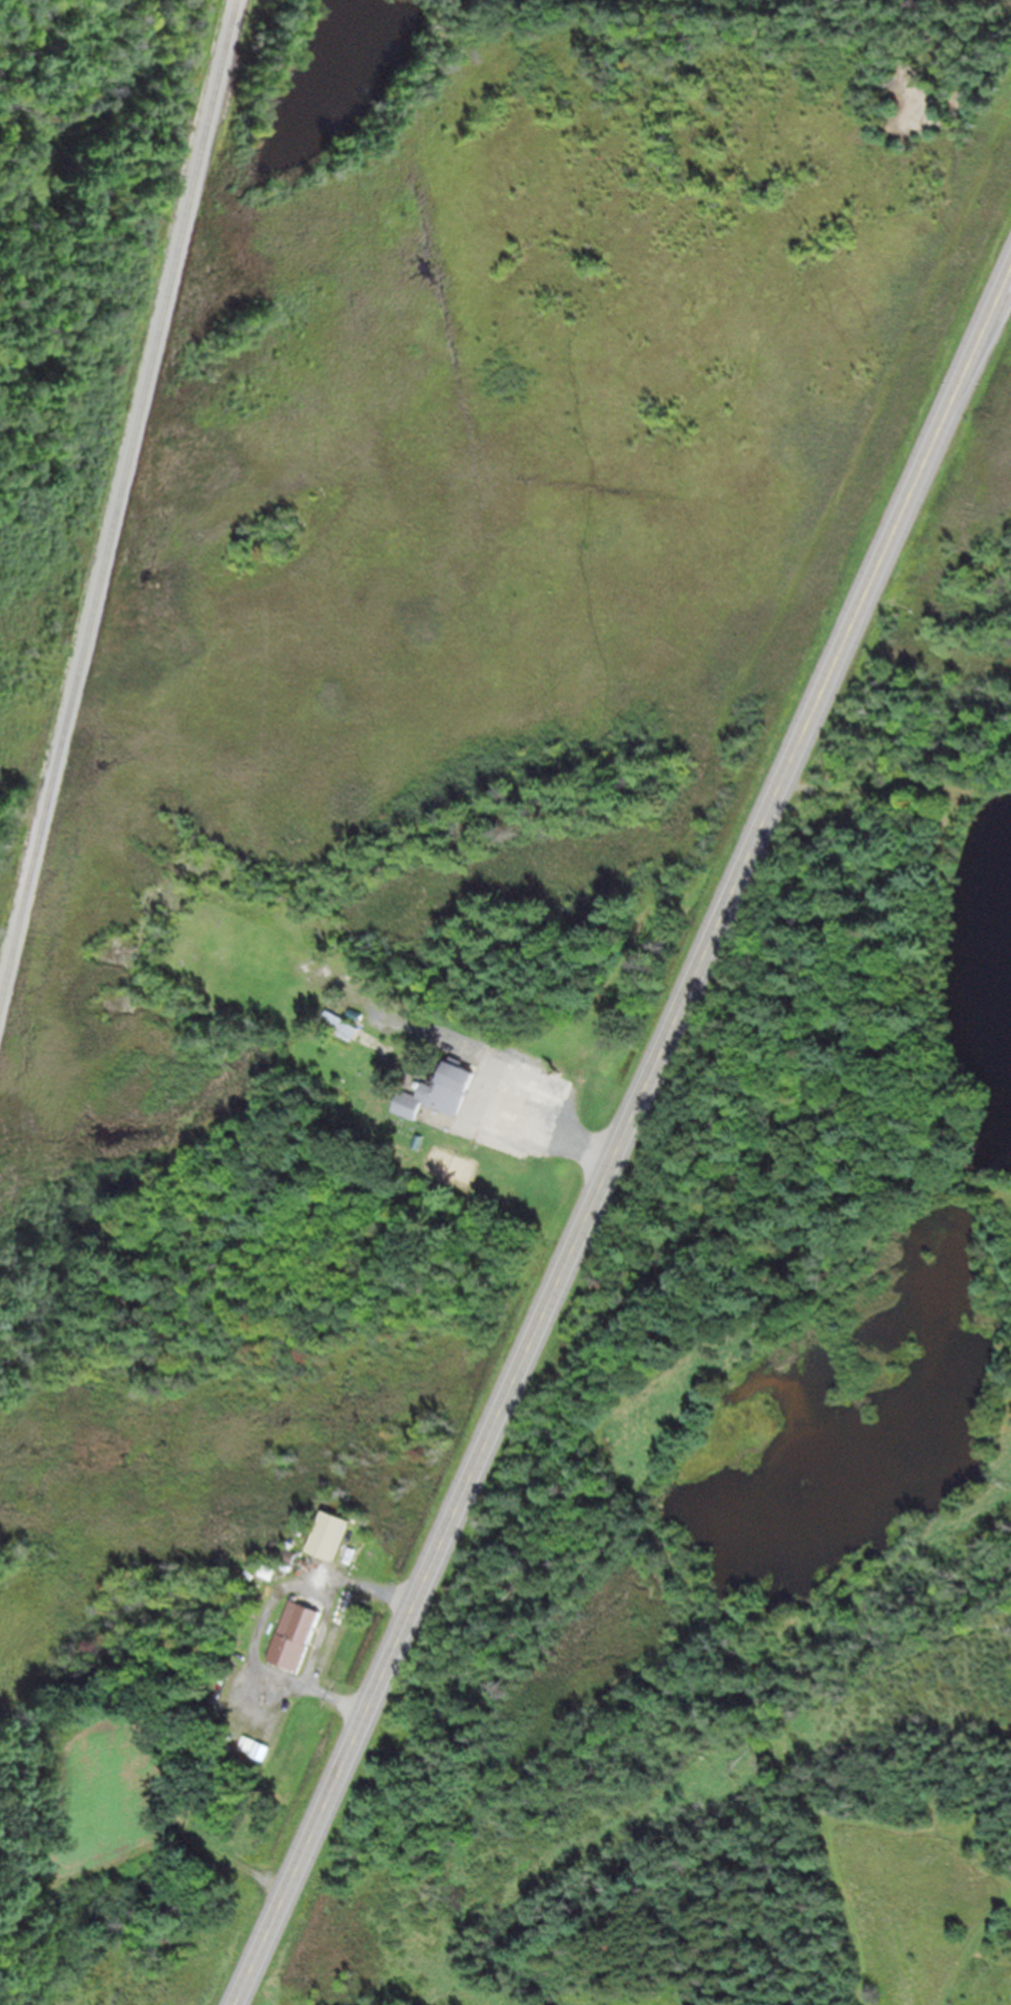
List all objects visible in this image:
railway: (118, 500)
building: (340, 1026)
building: (452, 1089)
parking lot: (515, 1107)
road: (554, 1129)
road: (624, 1140)
building: (332, 1533)
building: (268, 1571)
building: (295, 1635)

